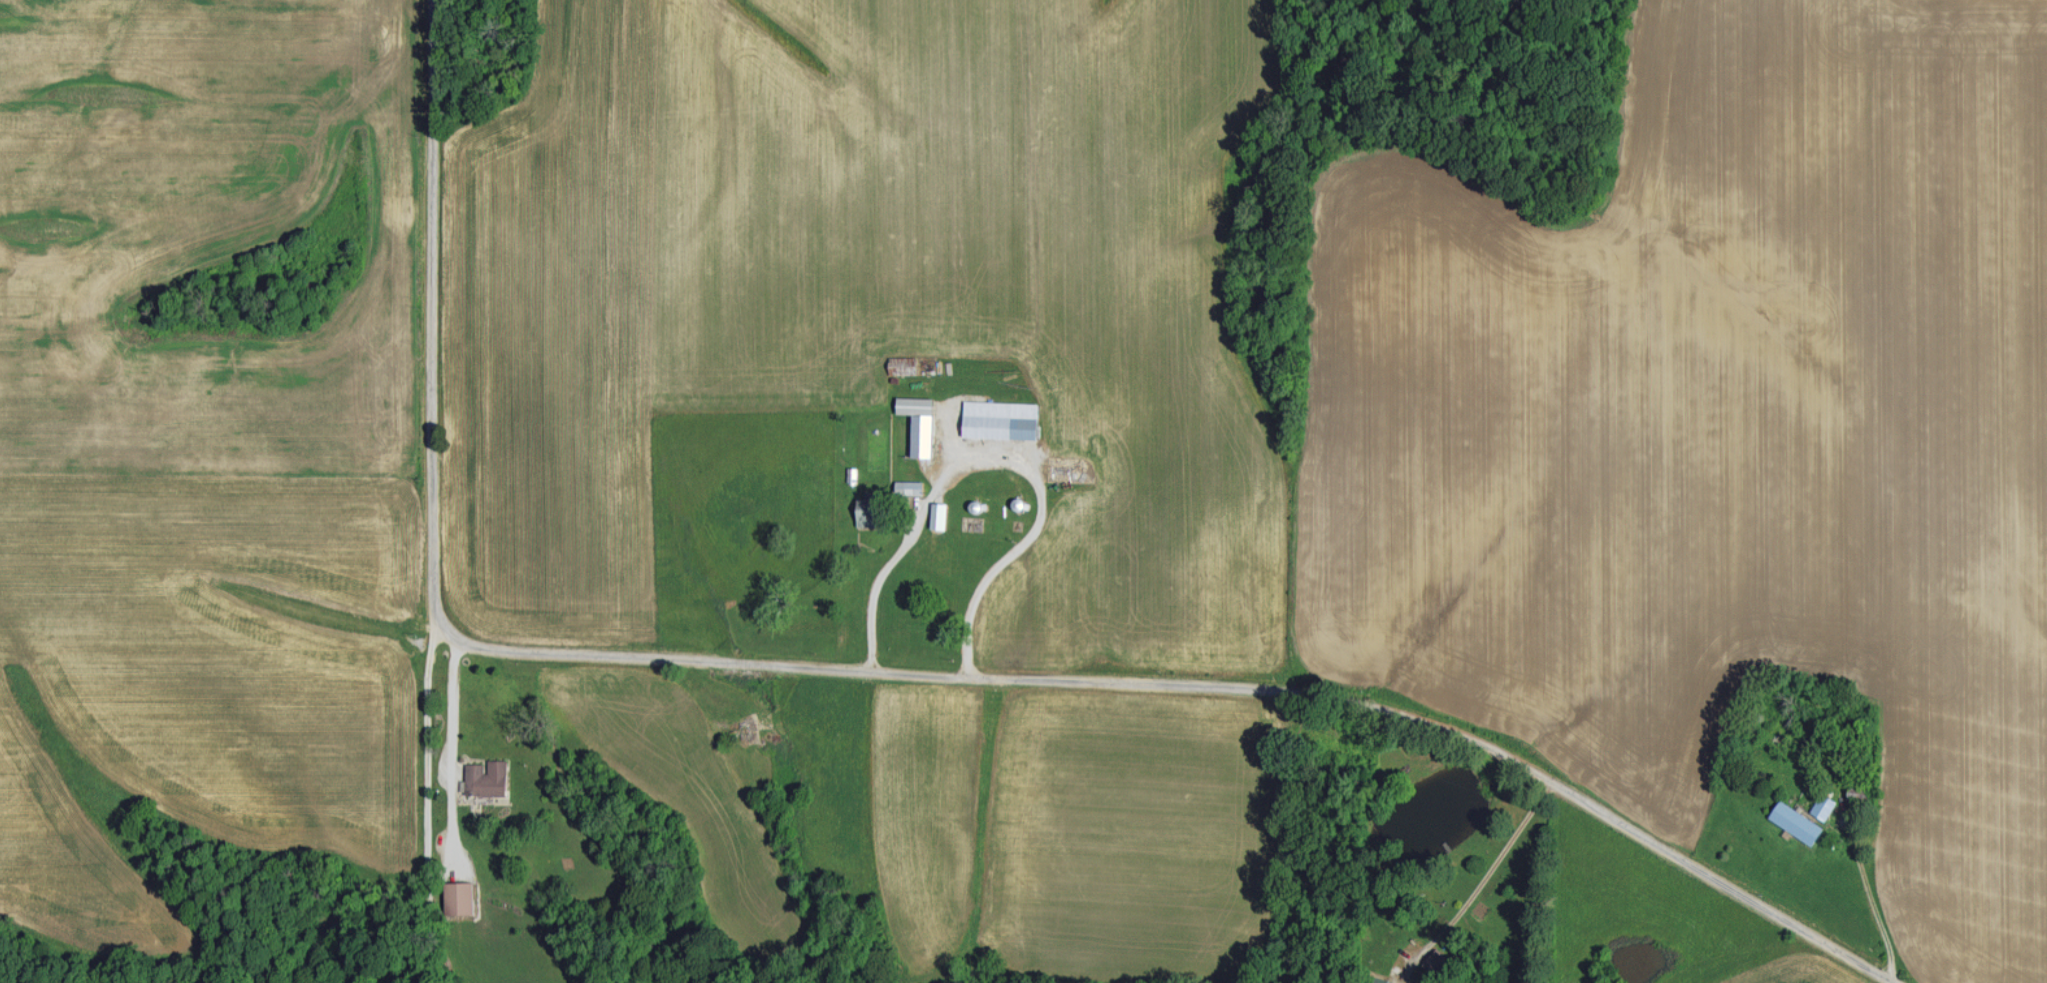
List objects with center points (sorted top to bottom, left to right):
building: (1001, 419)
building: (919, 423)
road: (998, 460)
building: (909, 487)
building: (866, 512)
building: (939, 515)
road: (889, 671)
road: (453, 748)
building: (487, 777)
building: (1824, 805)
building: (1796, 821)
road: (427, 849)
road: (1863, 874)
road: (1486, 877)
building: (459, 896)
building: (1436, 960)
building: (1383, 980)

